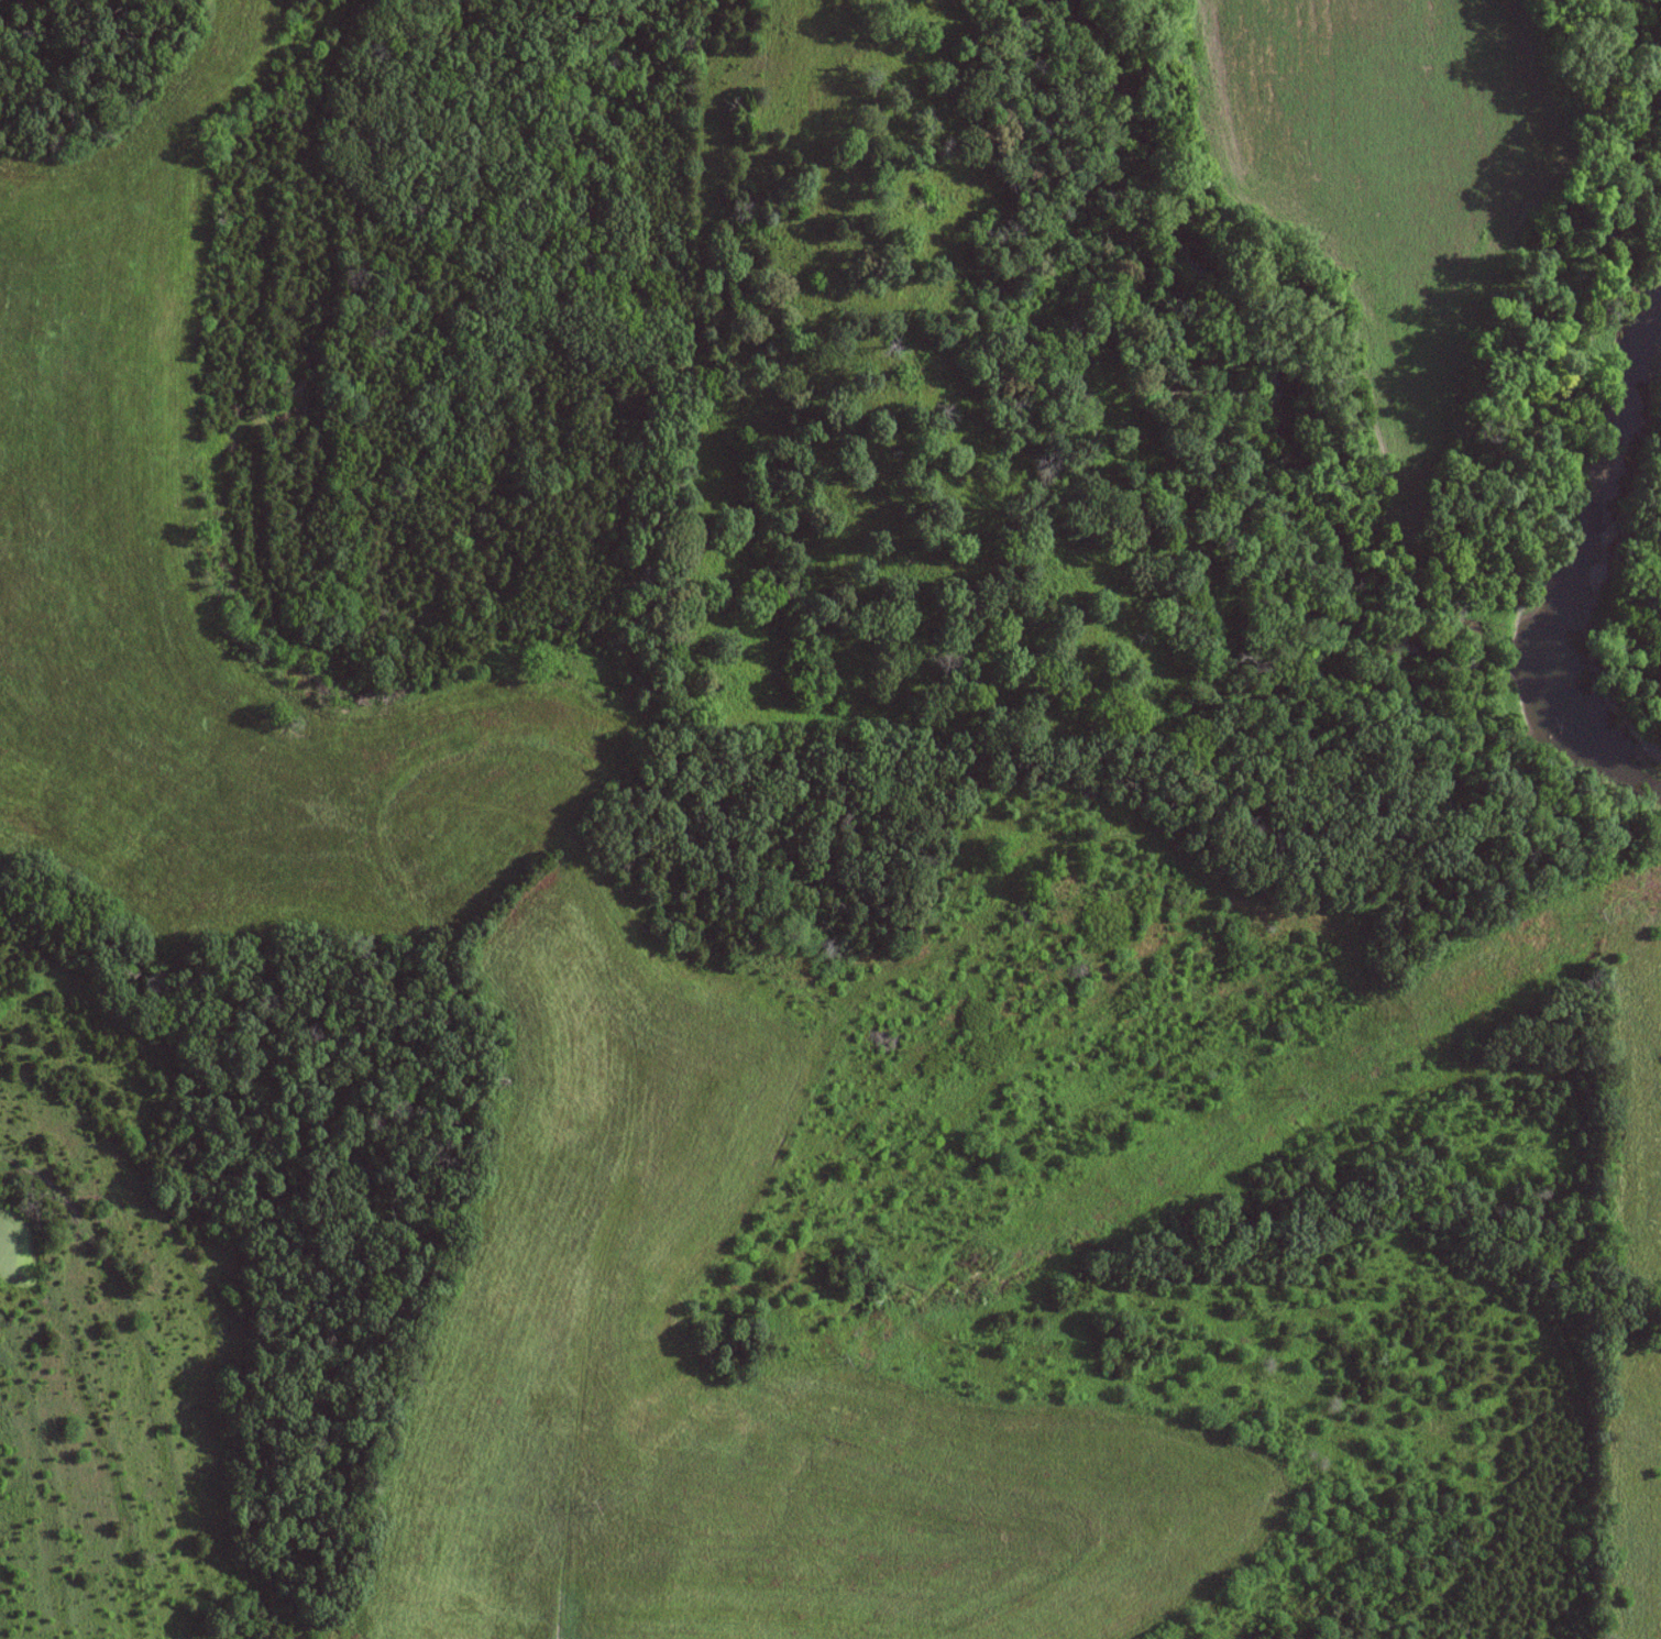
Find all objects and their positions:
river: (1569, 580)

